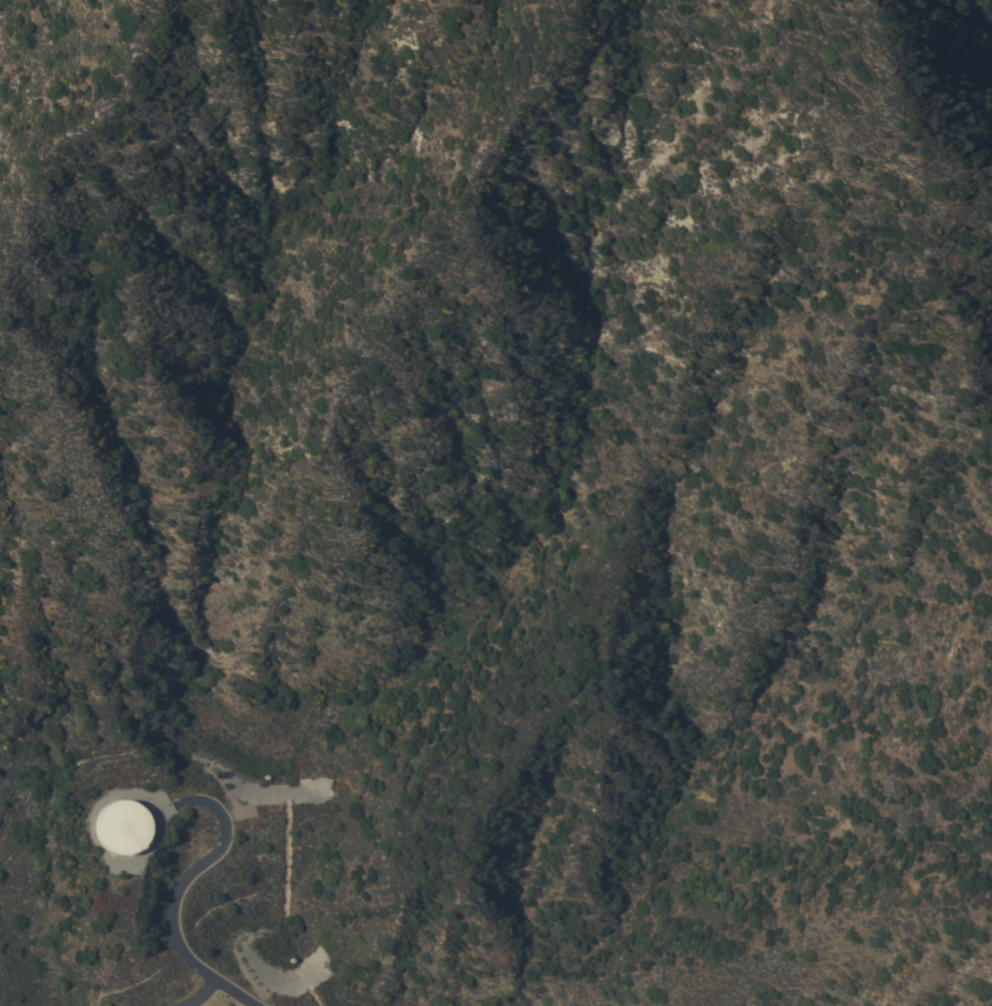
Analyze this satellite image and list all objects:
building: (122, 827)
water tower: (123, 827)
road: (178, 892)
road: (208, 996)

